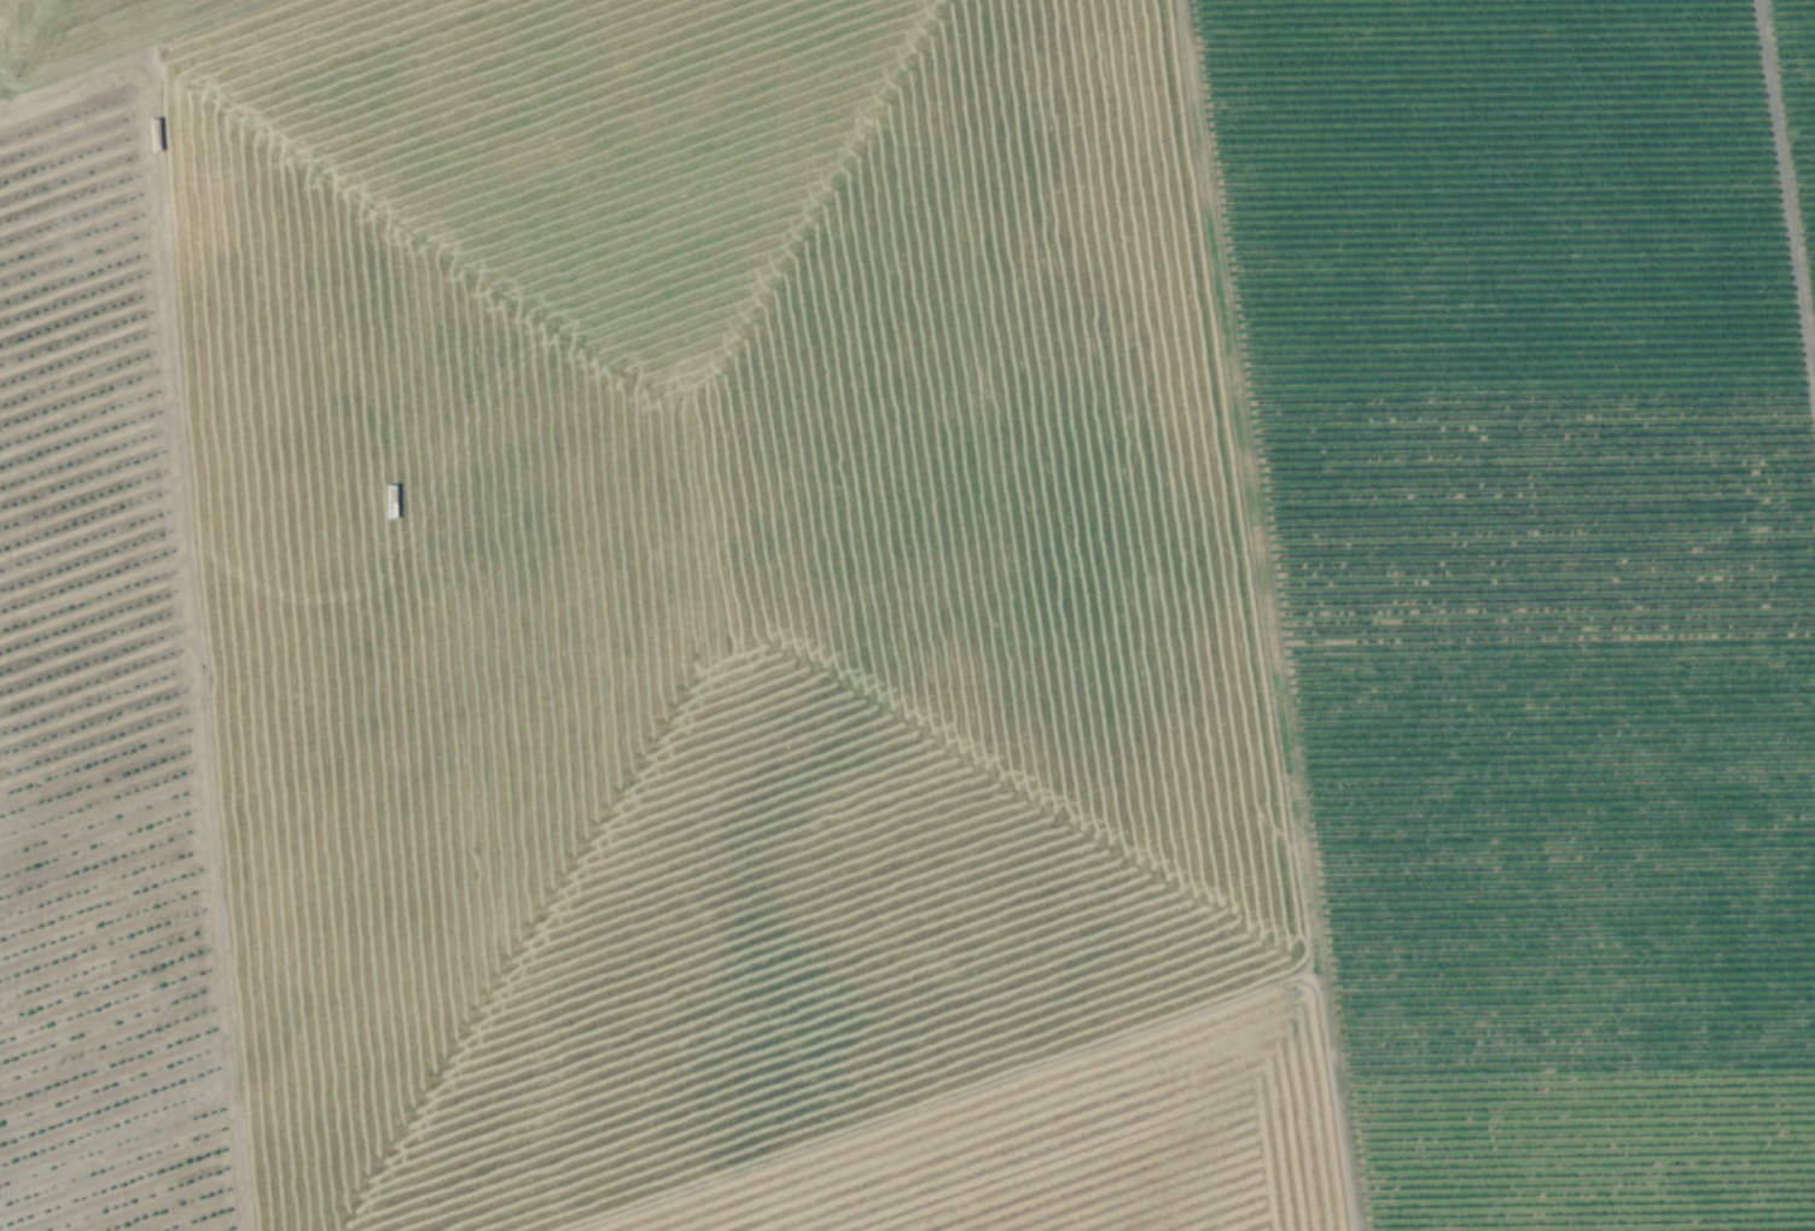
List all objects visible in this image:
road: (1785, 200)
crop: (991, 605)
road: (1264, 615)

